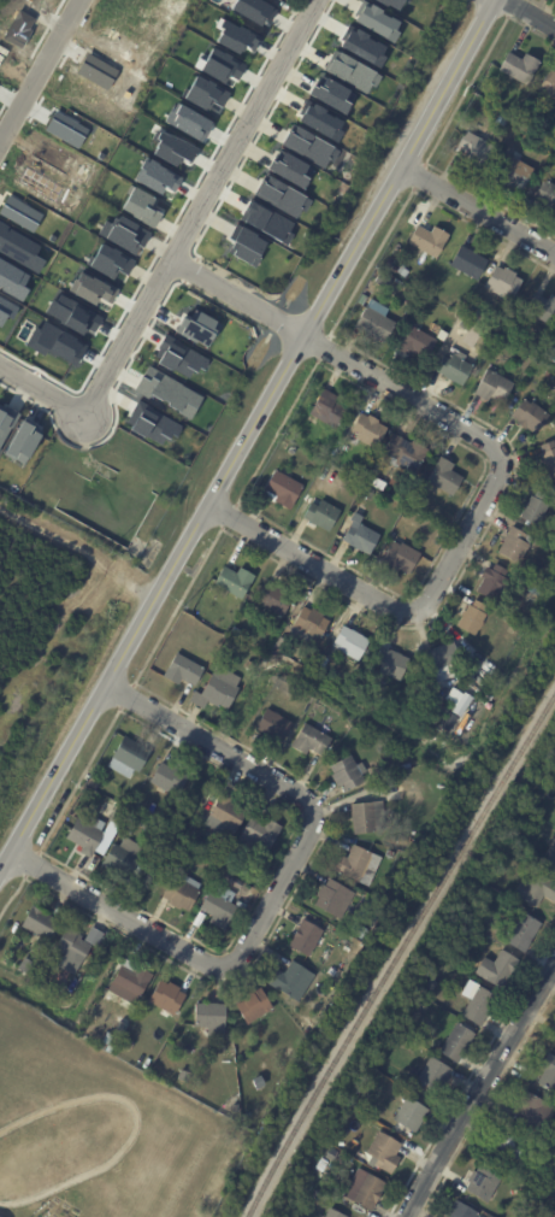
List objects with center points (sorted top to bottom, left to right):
building: (278, 0)
building: (409, 0)
building: (390, 2)
building: (258, 11)
road: (529, 14)
building: (374, 22)
building: (359, 45)
building: (519, 67)
road: (40, 70)
building: (349, 72)
building: (548, 86)
building: (203, 94)
building: (329, 94)
building: (318, 120)
building: (501, 120)
building: (554, 137)
building: (307, 147)
building: (474, 151)
building: (288, 169)
building: (514, 171)
building: (544, 194)
building: (279, 196)
road: (202, 205)
road: (478, 206)
building: (140, 207)
building: (265, 222)
building: (123, 234)
building: (427, 239)
building: (244, 245)
building: (108, 261)
building: (468, 261)
building: (394, 269)
building: (402, 270)
building: (503, 282)
building: (362, 299)
building: (542, 308)
building: (374, 322)
building: (435, 328)
building: (195, 329)
building: (554, 337)
building: (415, 342)
building: (549, 347)
building: (179, 359)
building: (551, 359)
building: (454, 369)
building: (548, 374)
road: (41, 382)
building: (492, 386)
building: (166, 392)
building: (327, 408)
building: (529, 416)
building: (5, 419)
building: (152, 424)
building: (368, 430)
road: (249, 439)
building: (20, 442)
building: (283, 445)
building: (405, 453)
building: (548, 457)
road: (500, 469)
building: (353, 471)
building: (444, 476)
building: (373, 481)
building: (282, 489)
building: (366, 492)
building: (535, 507)
building: (321, 515)
building: (361, 537)
building: (515, 545)
building: (400, 557)
building: (518, 577)
building: (234, 581)
building: (492, 582)
building: (529, 583)
building: (273, 599)
building: (472, 617)
building: (307, 625)
building: (347, 641)
building: (279, 643)
building: (442, 660)
building: (320, 662)
building: (391, 663)
building: (249, 665)
building: (182, 670)
building: (217, 690)
building: (437, 718)
building: (272, 725)
building: (311, 741)
building: (385, 752)
building: (128, 757)
building: (346, 774)
building: (169, 778)
building: (91, 782)
building: (134, 805)
building: (226, 812)
building: (119, 813)
building: (131, 817)
building: (367, 817)
building: (143, 824)
building: (260, 833)
building: (85, 835)
building: (385, 841)
building: (194, 845)
building: (123, 857)
building: (549, 857)
building: (358, 865)
building: (236, 883)
road: (277, 889)
building: (536, 890)
building: (181, 893)
building: (333, 899)
building: (218, 907)
building: (39, 923)
building: (358, 931)
building: (522, 934)
building: (305, 939)
building: (457, 945)
building: (71, 946)
railway: (400, 954)
building: (0, 957)
building: (24, 968)
building: (497, 970)
building: (331, 972)
building: (291, 981)
building: (129, 982)
building: (426, 987)
building: (166, 998)
building: (253, 1006)
building: (478, 1006)
building: (414, 1013)
building: (209, 1018)
building: (303, 1024)
building: (119, 1029)
building: (456, 1043)
building: (129, 1046)
road: (470, 1074)
building: (548, 1074)
building: (433, 1075)
building: (183, 1076)
road: (479, 1089)
building: (193, 1093)
building: (255, 1106)
building: (364, 1107)
building: (235, 1109)
building: (533, 1113)
building: (409, 1118)
building: (170, 1142)
building: (179, 1146)
building: (513, 1146)
building: (383, 1152)
building: (551, 1169)
building: (532, 1175)
building: (483, 1183)
building: (364, 1190)
building: (66, 1205)
building: (95, 1211)
building: (460, 1211)
building: (332, 1213)
building: (551, 1216)

